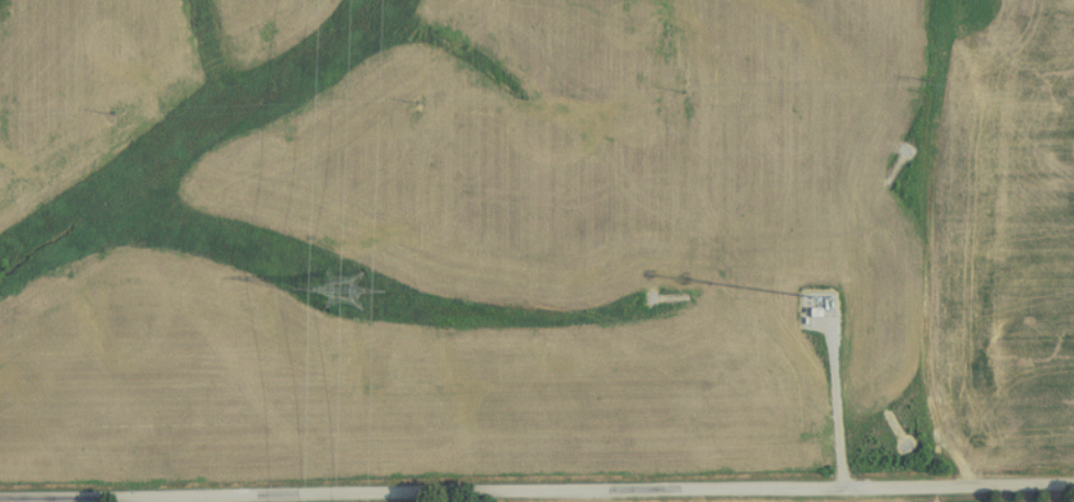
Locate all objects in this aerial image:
power tower: (333, 293)
road: (839, 402)
road: (536, 495)

